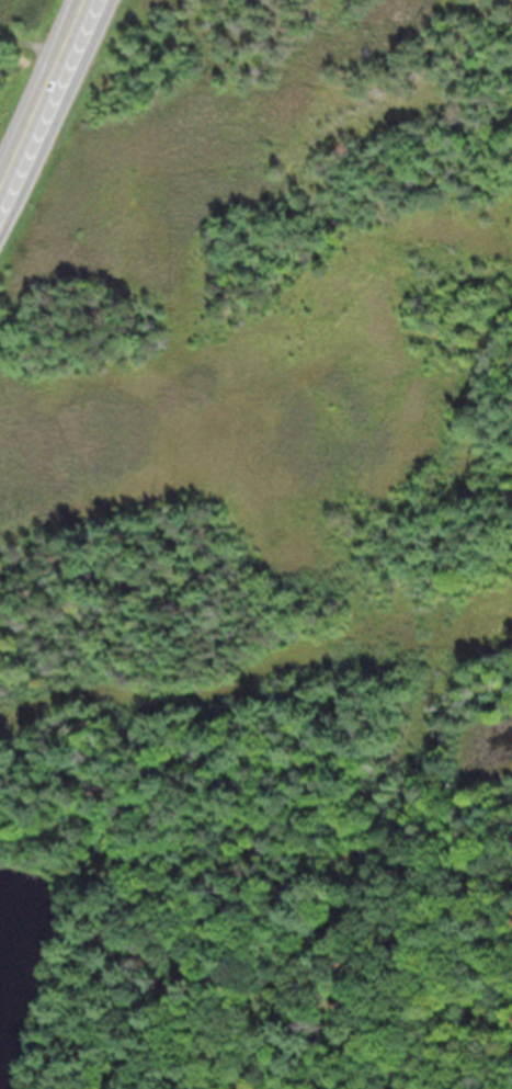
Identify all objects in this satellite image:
road: (43, 97)

